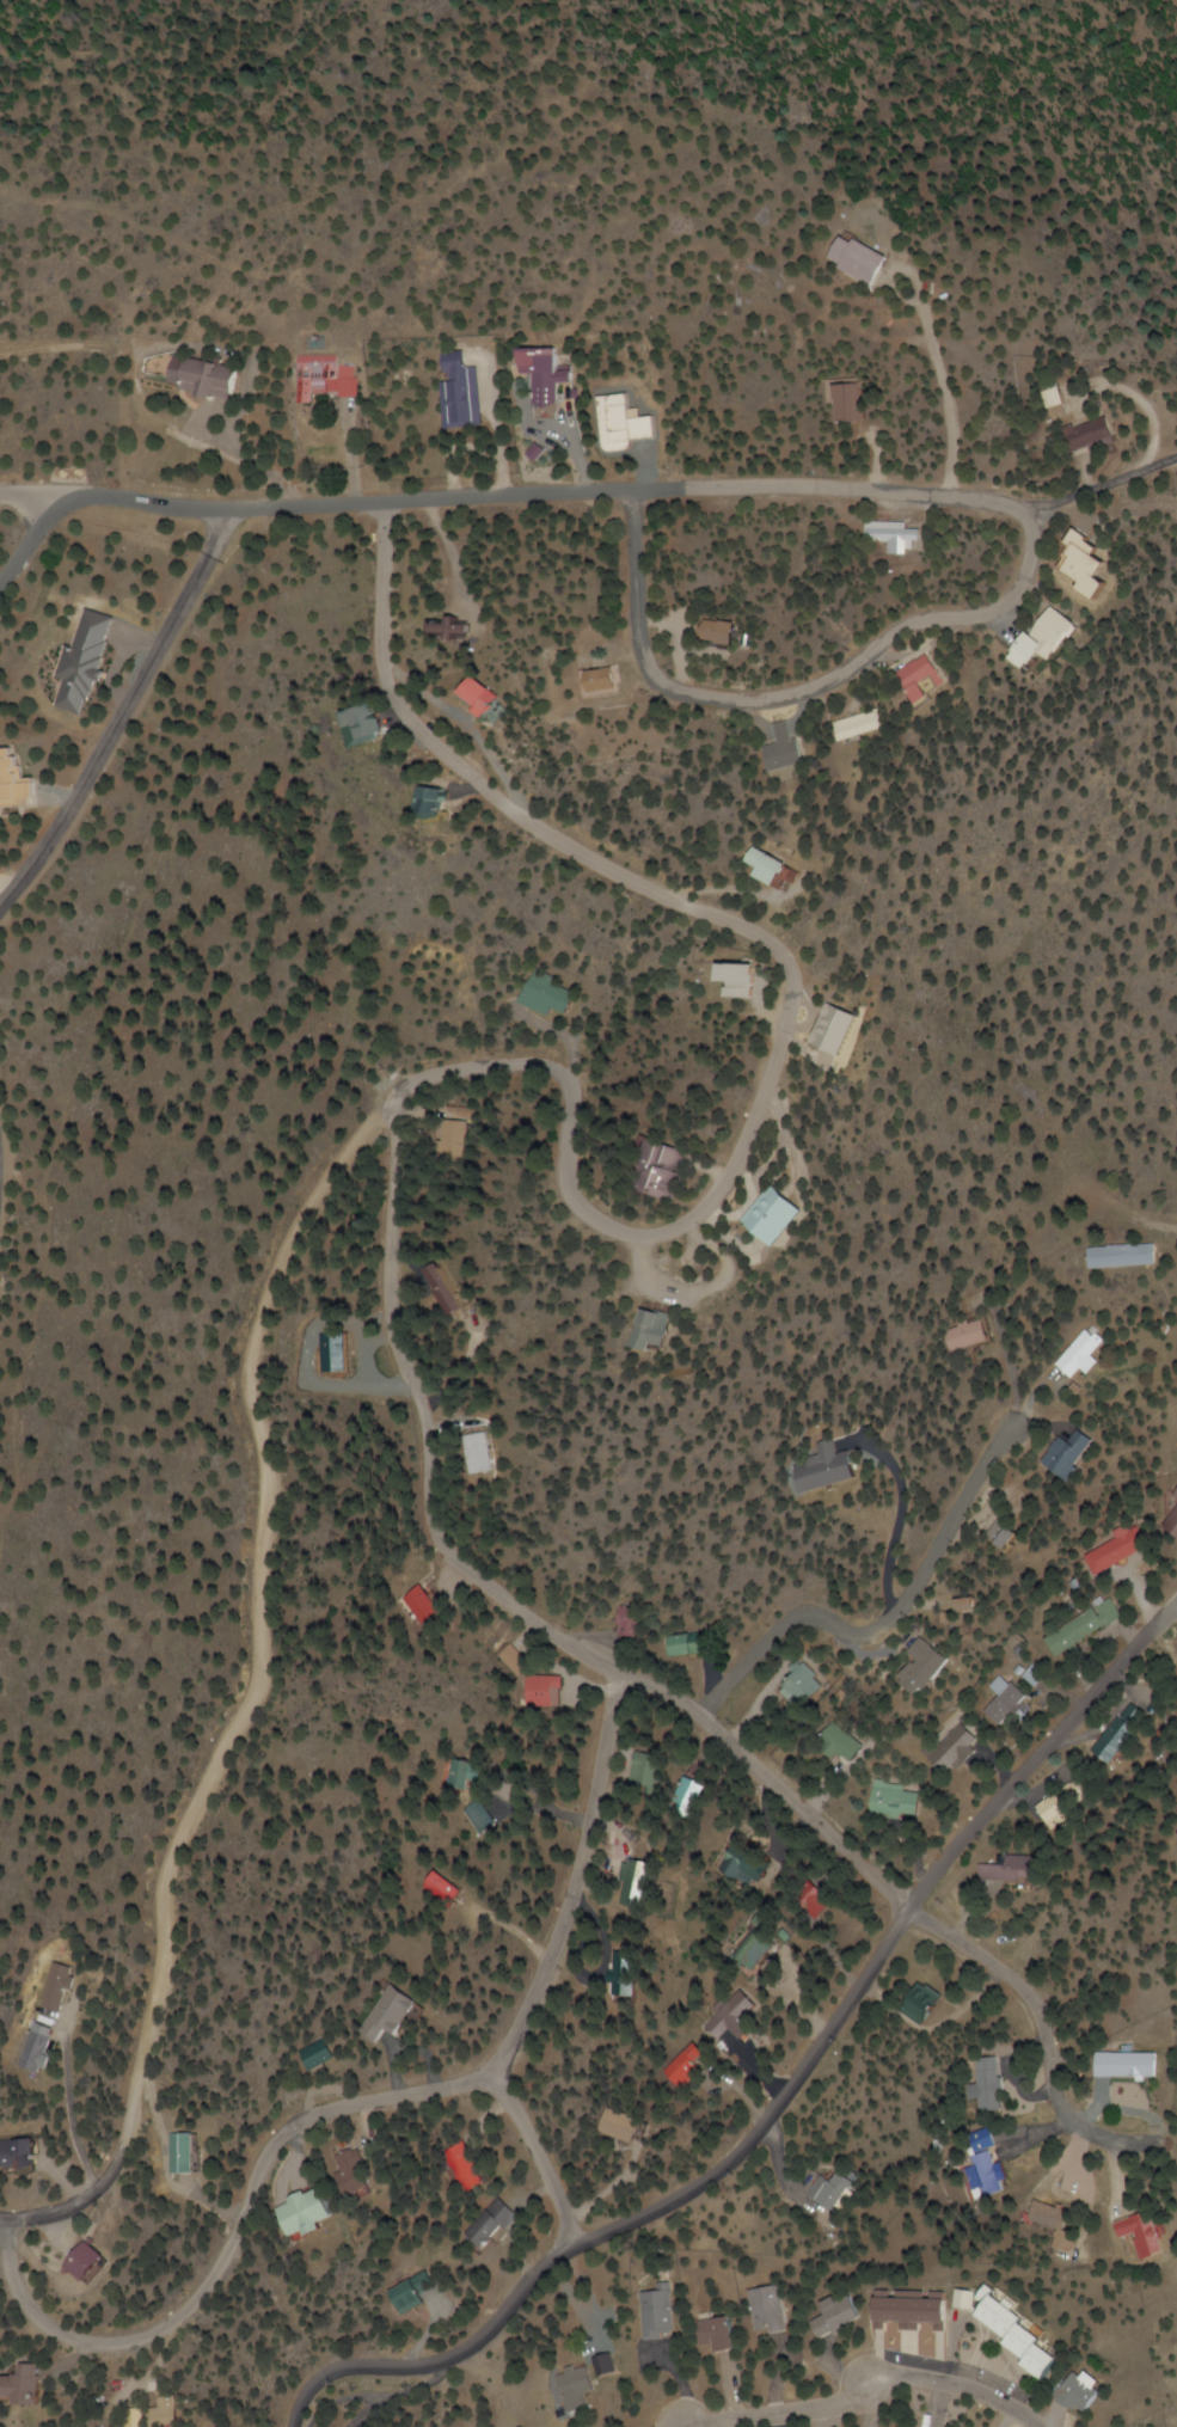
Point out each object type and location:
building: (859, 261)
building: (324, 375)
building: (207, 378)
building: (547, 382)
building: (464, 394)
building: (1046, 398)
building: (846, 403)
road: (950, 405)
building: (1079, 436)
road: (540, 492)
road: (30, 496)
road: (30, 534)
building: (894, 535)
building: (1068, 565)
building: (1038, 632)
building: (721, 633)
building: (926, 676)
building: (606, 680)
road: (795, 692)
building: (484, 697)
road: (122, 711)
building: (374, 722)
building: (868, 725)
building: (792, 749)
building: (16, 779)
building: (440, 799)
building: (773, 866)
building: (741, 980)
building: (553, 994)
road: (436, 1077)
building: (453, 1138)
building: (667, 1169)
building: (783, 1214)
road: (1155, 1225)
building: (1126, 1256)
building: (442, 1281)
building: (664, 1329)
building: (974, 1335)
building: (336, 1353)
building: (1081, 1355)
building: (1073, 1454)
building: (480, 1457)
building: (835, 1467)
building: (1175, 1524)
building: (1005, 1534)
building: (1120, 1549)
building: (424, 1605)
building: (977, 1605)
building: (635, 1623)
road: (882, 1625)
building: (1084, 1628)
building: (695, 1643)
building: (515, 1661)
building: (926, 1666)
building: (802, 1686)
building: (545, 1690)
road: (660, 1697)
building: (1006, 1704)
building: (1135, 1715)
building: (841, 1743)
building: (952, 1749)
building: (648, 1770)
building: (465, 1775)
building: (692, 1791)
building: (894, 1800)
building: (1066, 1803)
road: (586, 1813)
building: (742, 1865)
building: (1014, 1869)
building: (636, 1883)
building: (452, 1889)
building: (627, 1967)
building: (60, 1986)
road: (532, 1993)
building: (922, 2005)
building: (393, 2014)
building: (737, 2018)
building: (38, 2049)
building: (321, 2054)
building: (1127, 2065)
building: (688, 2066)
building: (987, 2085)
road: (785, 2097)
road: (71, 2118)
building: (626, 2127)
building: (180, 2153)
building: (27, 2156)
road: (534, 2157)
building: (465, 2169)
building: (353, 2170)
building: (980, 2176)
building: (838, 2194)
building: (308, 2214)
building: (1050, 2217)
road: (1, 2219)
building: (488, 2223)
road: (234, 2226)
building: (1142, 2235)
building: (96, 2264)
building: (415, 2293)
building: (765, 2311)
building: (917, 2311)
building: (652, 2312)
building: (839, 2318)
building: (715, 2336)
building: (1025, 2340)
building: (605, 2366)
road: (878, 2385)
building: (33, 2388)
building: (576, 2389)
building: (1085, 2394)
building: (173, 2413)
building: (145, 2420)

